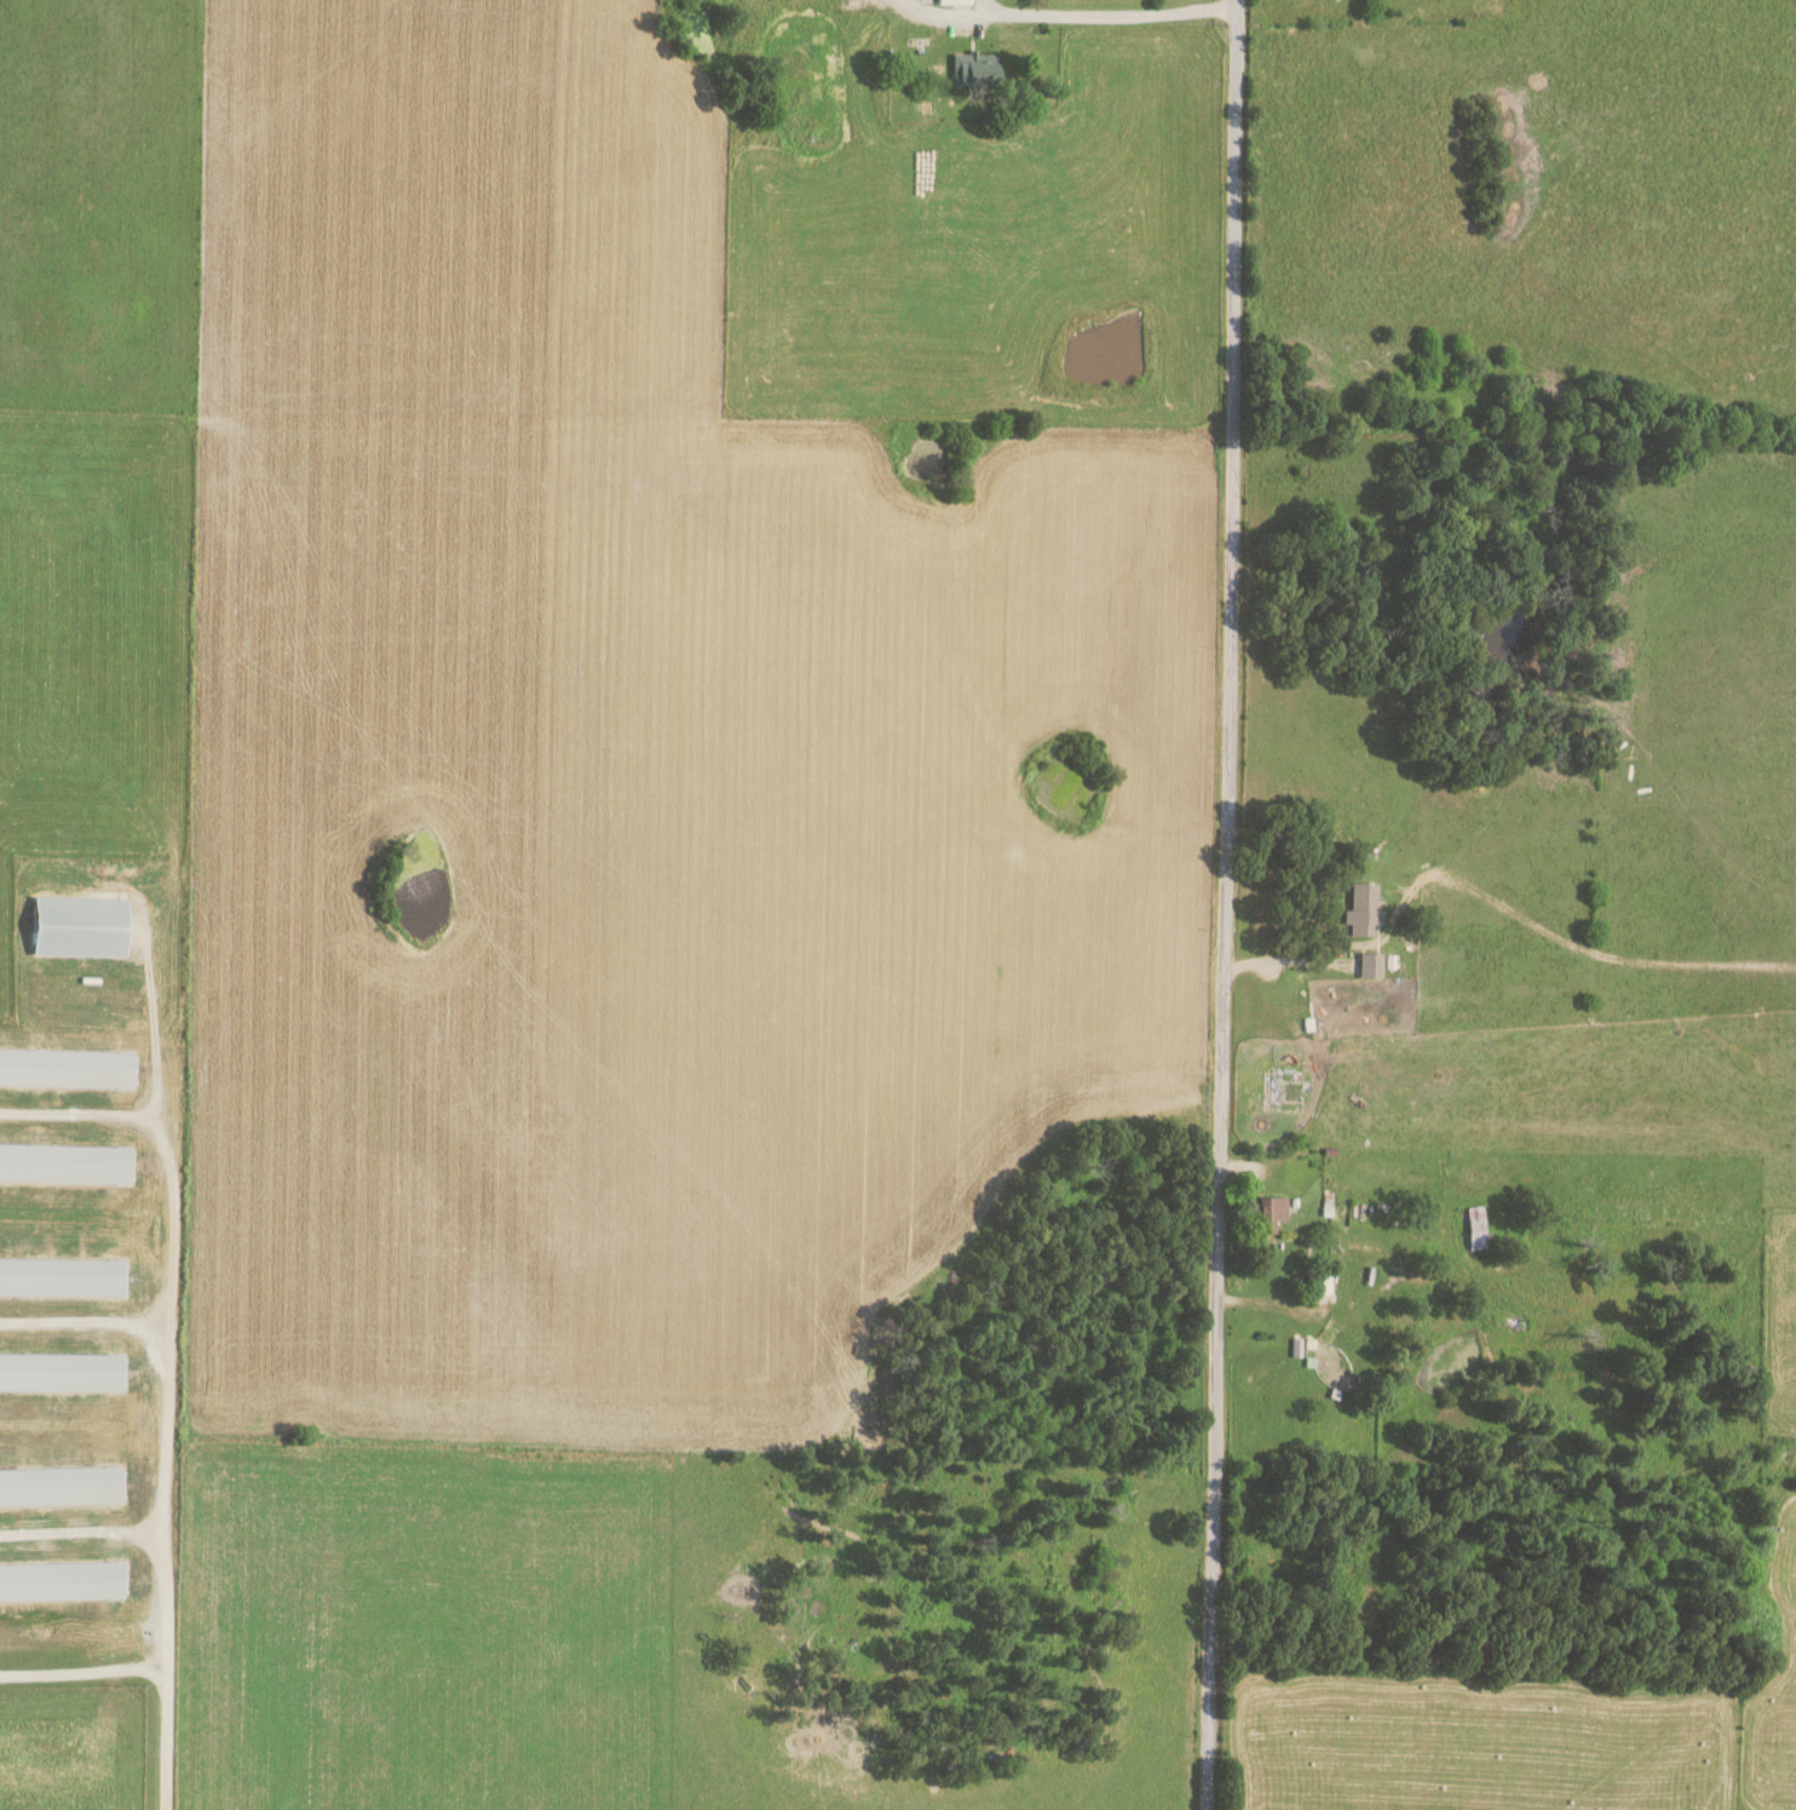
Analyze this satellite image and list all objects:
building: (956, 1)
road: (1095, 16)
building: (977, 67)
road: (1222, 904)
building: (1364, 909)
building: (80, 926)
road: (1299, 965)
building: (1371, 965)
building: (67, 1067)
building: (65, 1162)
building: (1271, 1211)
building: (62, 1276)
building: (1319, 1280)
road: (169, 1317)
road: (85, 1321)
building: (62, 1371)
building: (61, 1486)
road: (84, 1532)
building: (62, 1581)
road: (152, 1667)

